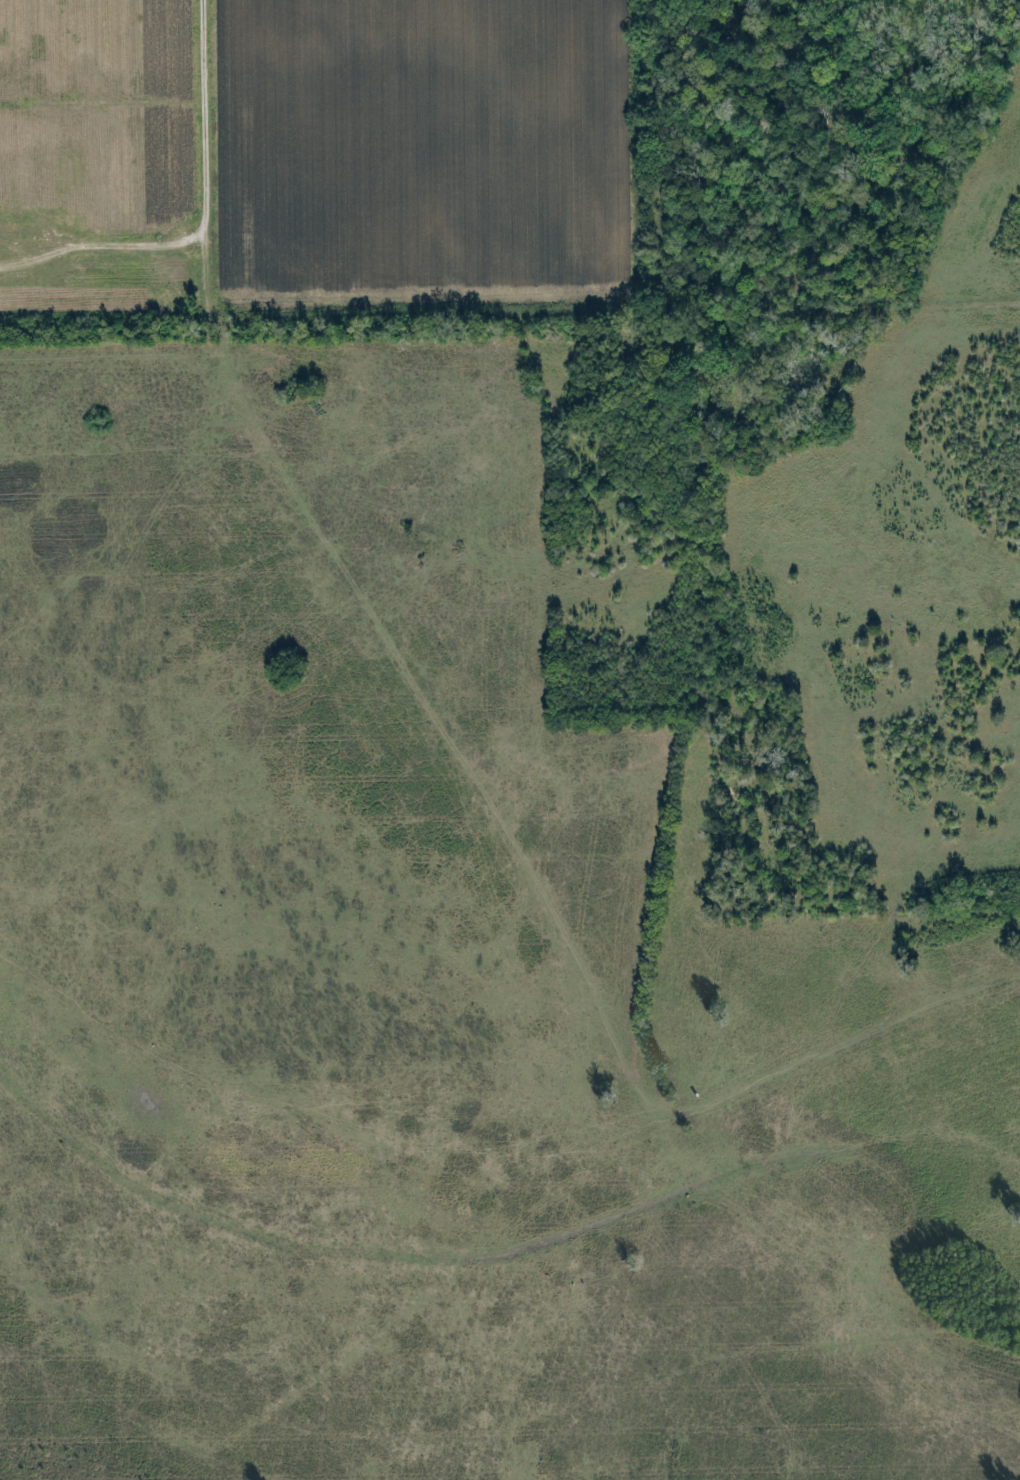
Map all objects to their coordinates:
road: (212, 163)
road: (510, 320)

